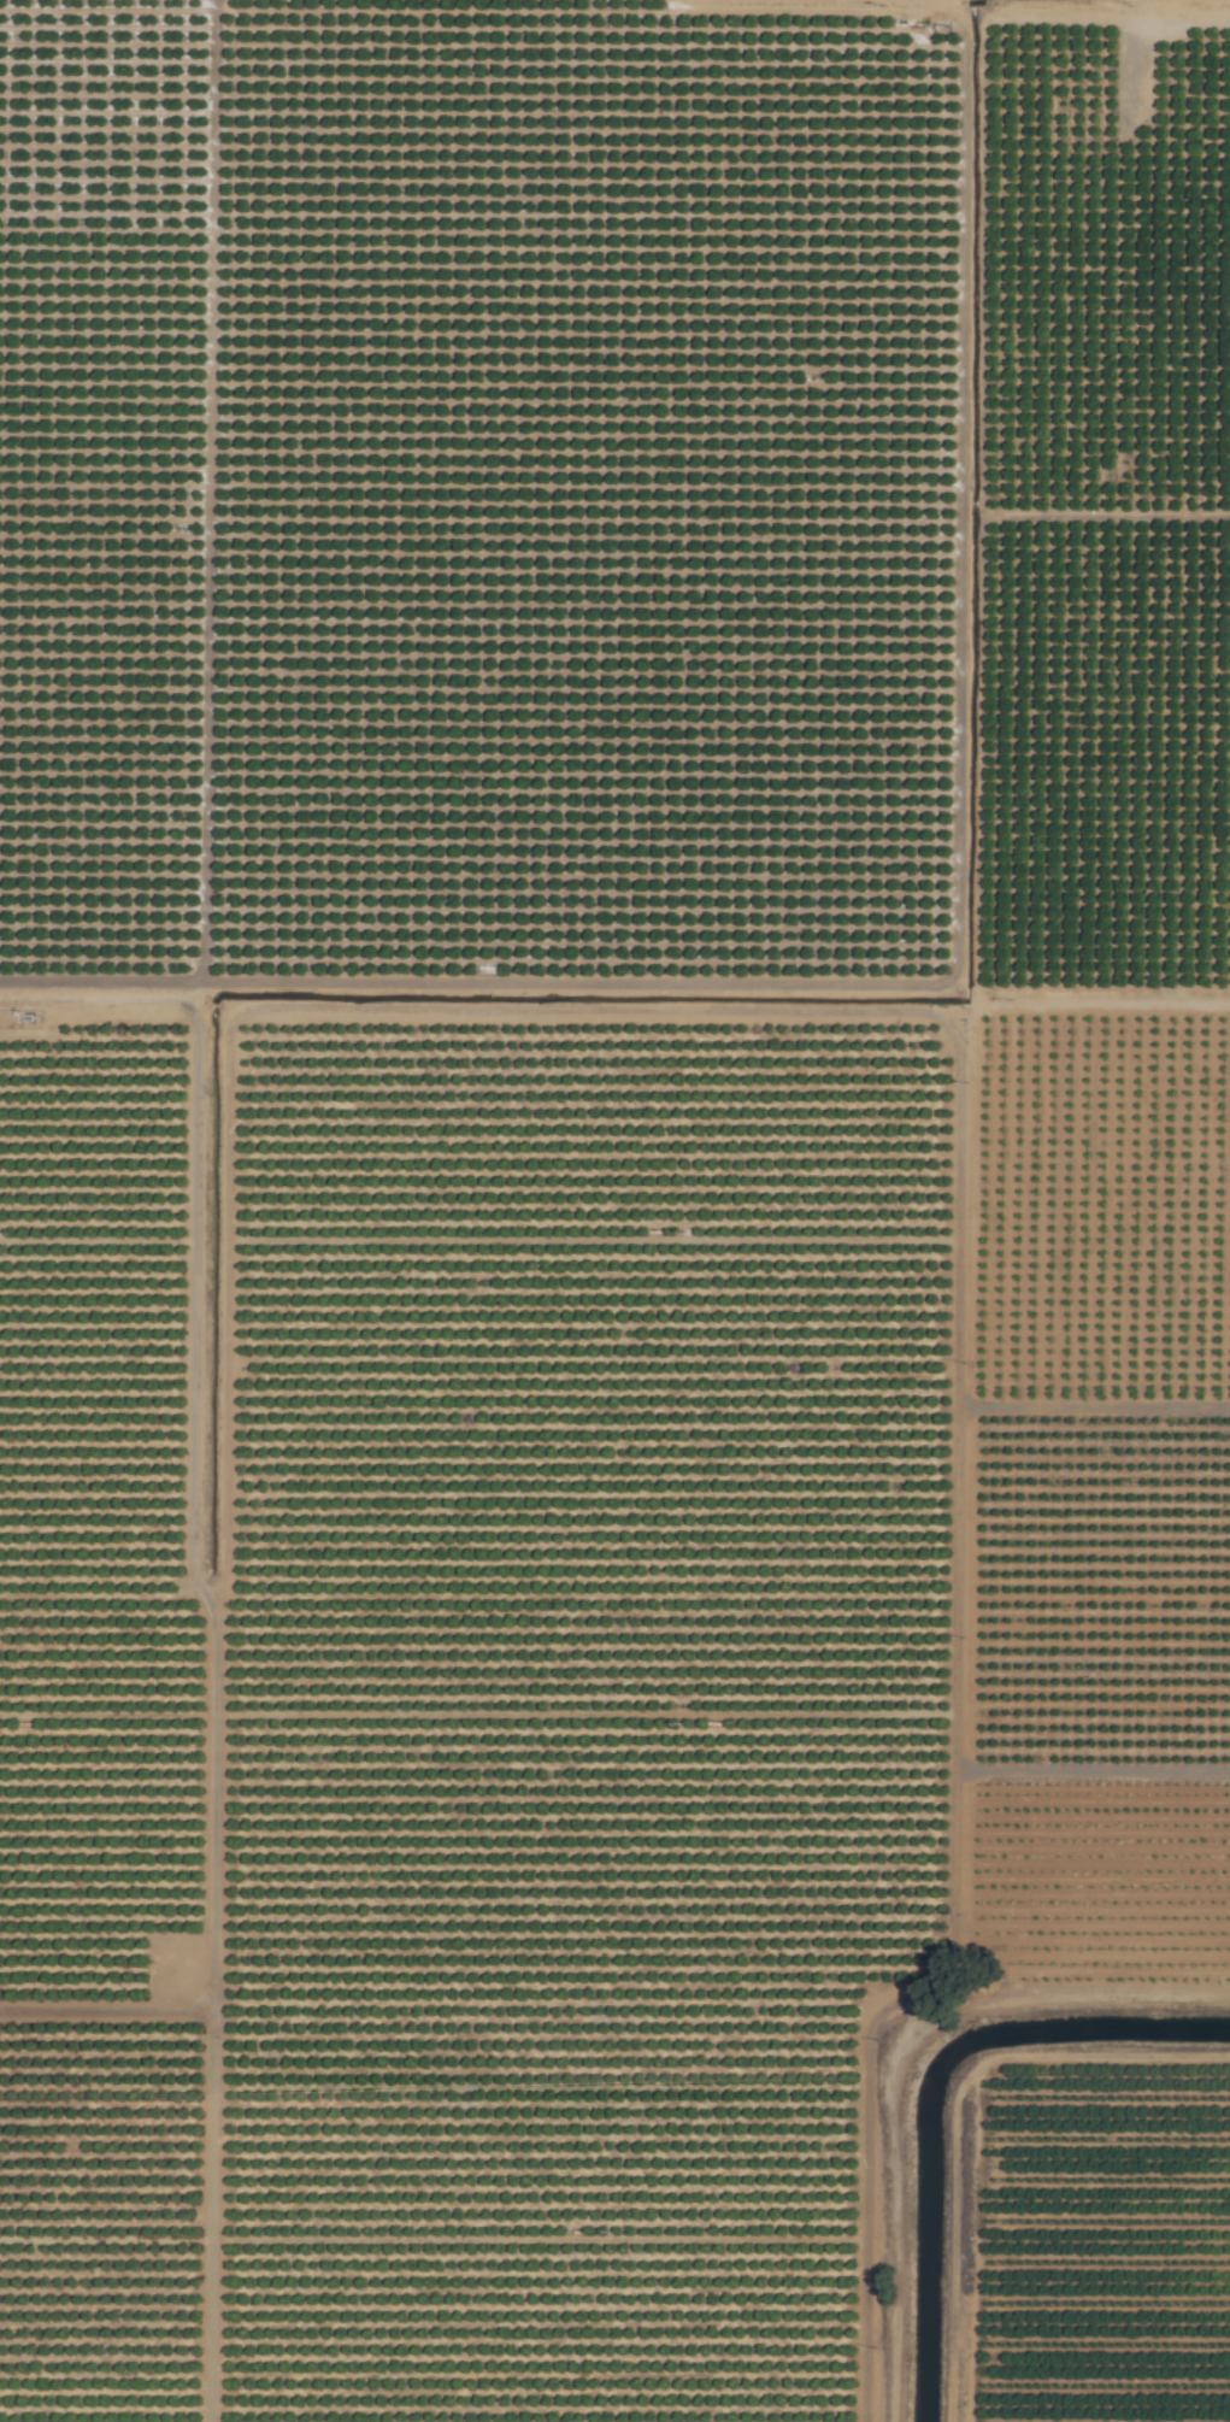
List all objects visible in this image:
road: (217, 599)
road: (223, 1601)

